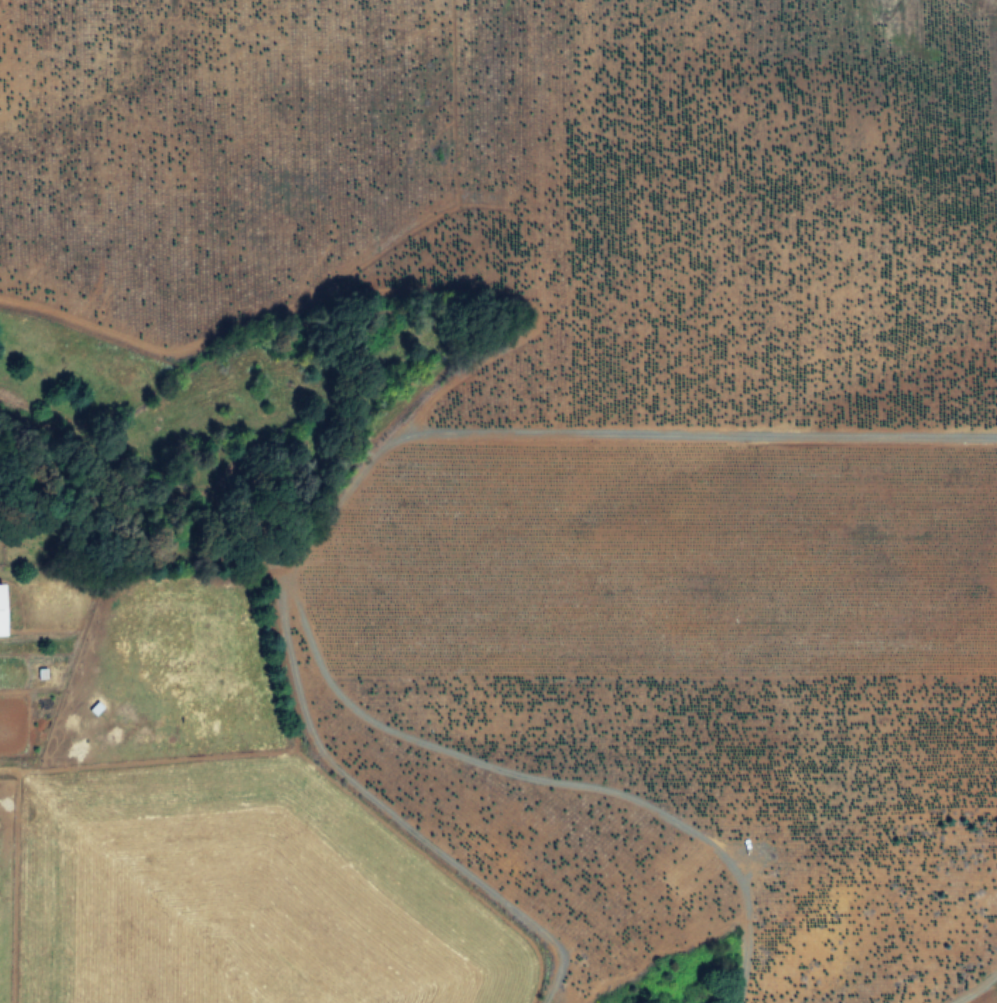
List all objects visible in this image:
road: (549, 437)
crop: (498, 501)
road: (977, 989)

